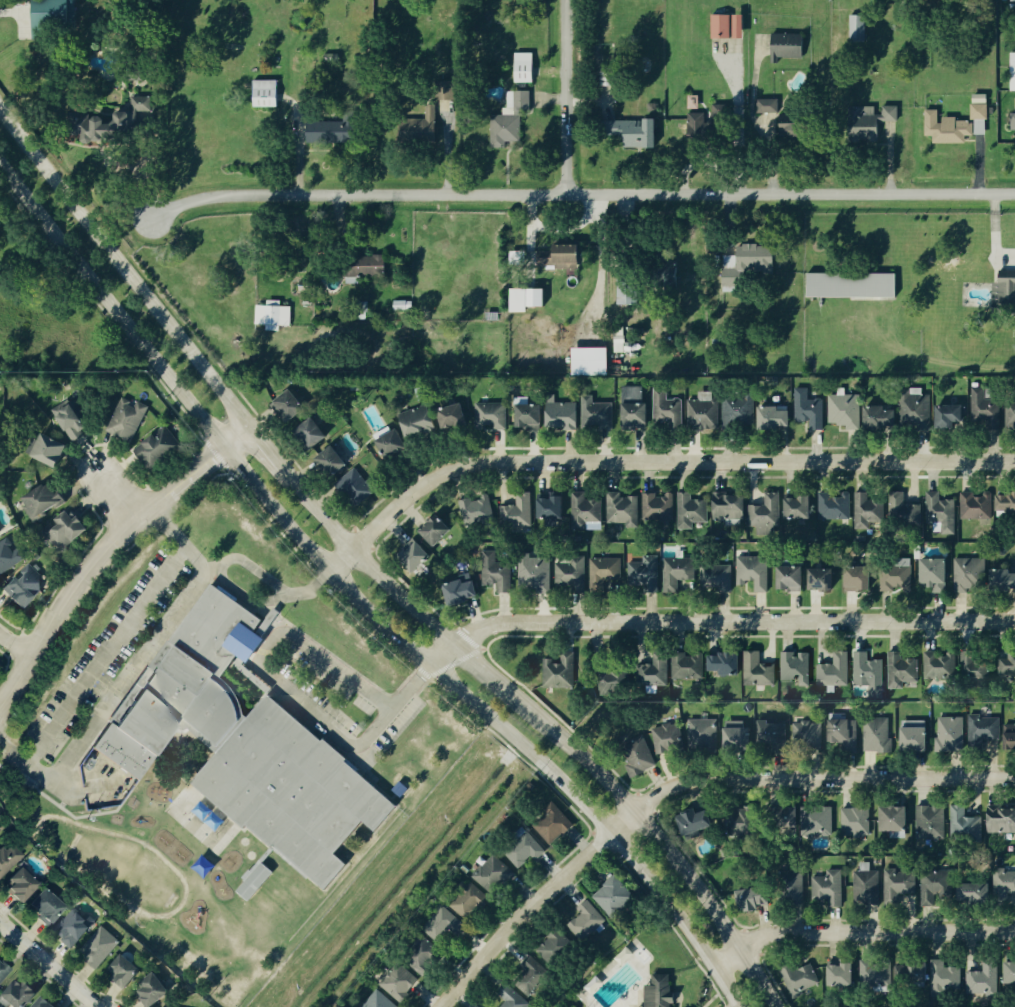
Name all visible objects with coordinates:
building: (53, 14)
building: (742, 25)
building: (737, 26)
building: (719, 27)
building: (856, 28)
building: (791, 44)
building: (330, 57)
building: (522, 68)
building: (1012, 71)
building: (445, 91)
building: (263, 93)
road: (565, 97)
building: (768, 106)
building: (980, 111)
building: (720, 114)
building: (510, 119)
building: (874, 120)
building: (1013, 121)
building: (119, 122)
building: (799, 123)
building: (422, 127)
building: (947, 128)
building: (334, 131)
building: (637, 133)
road: (581, 193)
road: (599, 200)
road: (553, 229)
road: (995, 229)
building: (544, 255)
building: (569, 258)
building: (368, 265)
road: (122, 269)
road: (600, 273)
building: (849, 285)
building: (628, 288)
building: (1005, 290)
building: (529, 299)
road: (111, 306)
building: (273, 316)
building: (588, 360)
building: (890, 403)
building: (924, 403)
building: (292, 405)
building: (636, 408)
building: (810, 409)
building: (667, 411)
building: (845, 411)
building: (704, 412)
building: (992, 412)
building: (740, 413)
building: (599, 414)
building: (491, 416)
building: (531, 416)
building: (567, 416)
building: (952, 416)
building: (777, 418)
building: (882, 419)
building: (71, 420)
building: (127, 420)
building: (435, 423)
building: (313, 434)
building: (395, 444)
building: (158, 448)
road: (268, 450)
building: (52, 452)
building: (334, 461)
road: (652, 461)
building: (357, 484)
road: (115, 496)
building: (45, 500)
building: (1007, 504)
building: (691, 506)
building: (731, 506)
building: (835, 506)
building: (659, 507)
building: (802, 507)
building: (974, 507)
building: (553, 508)
building: (898, 509)
building: (586, 510)
building: (624, 511)
building: (868, 511)
building: (767, 512)
building: (497, 513)
road: (165, 525)
building: (441, 527)
building: (0, 531)
building: (68, 531)
road: (104, 547)
building: (9, 555)
building: (416, 556)
road: (218, 570)
building: (604, 571)
building: (571, 572)
building: (755, 572)
building: (938, 572)
building: (498, 573)
building: (677, 573)
building: (535, 574)
building: (970, 574)
building: (644, 575)
building: (887, 577)
building: (717, 578)
building: (822, 578)
building: (793, 579)
building: (860, 579)
building: (1005, 580)
building: (27, 587)
road: (311, 589)
building: (466, 592)
building: (271, 620)
road: (715, 620)
road: (15, 644)
road: (265, 649)
road: (104, 656)
building: (728, 664)
building: (1010, 665)
road: (136, 666)
building: (794, 666)
building: (941, 666)
building: (688, 667)
building: (902, 669)
building: (759, 670)
building: (974, 670)
building: (834, 671)
building: (561, 672)
building: (869, 674)
building: (639, 676)
road: (395, 704)
road: (490, 717)
road: (549, 725)
building: (982, 729)
building: (844, 733)
building: (950, 734)
building: (807, 735)
building: (774, 736)
building: (877, 736)
building: (705, 738)
building: (1010, 738)
building: (668, 739)
building: (917, 739)
building: (740, 741)
building: (240, 745)
building: (640, 757)
road: (681, 781)
road: (51, 784)
building: (896, 819)
building: (1002, 820)
building: (811, 821)
building: (862, 822)
building: (931, 823)
building: (553, 826)
building: (724, 826)
building: (966, 826)
building: (0, 837)
building: (525, 851)
building: (9, 860)
building: (494, 876)
building: (253, 881)
building: (866, 887)
building: (898, 887)
building: (828, 889)
building: (26, 890)
building: (988, 890)
building: (933, 893)
building: (615, 898)
building: (754, 899)
building: (471, 903)
building: (50, 908)
building: (588, 920)
building: (445, 925)
building: (74, 928)
road: (859, 931)
building: (99, 947)
building: (556, 947)
building: (426, 956)
road: (45, 965)
building: (4, 972)
building: (871, 972)
building: (1011, 973)
building: (128, 975)
building: (532, 975)
park: (642, 975)
building: (843, 975)
building: (930, 976)
building: (801, 979)
building: (984, 981)
building: (401, 982)
building: (155, 991)
building: (661, 991)
building: (22, 992)
building: (382, 1001)
building: (515, 1001)
building: (47, 1003)

